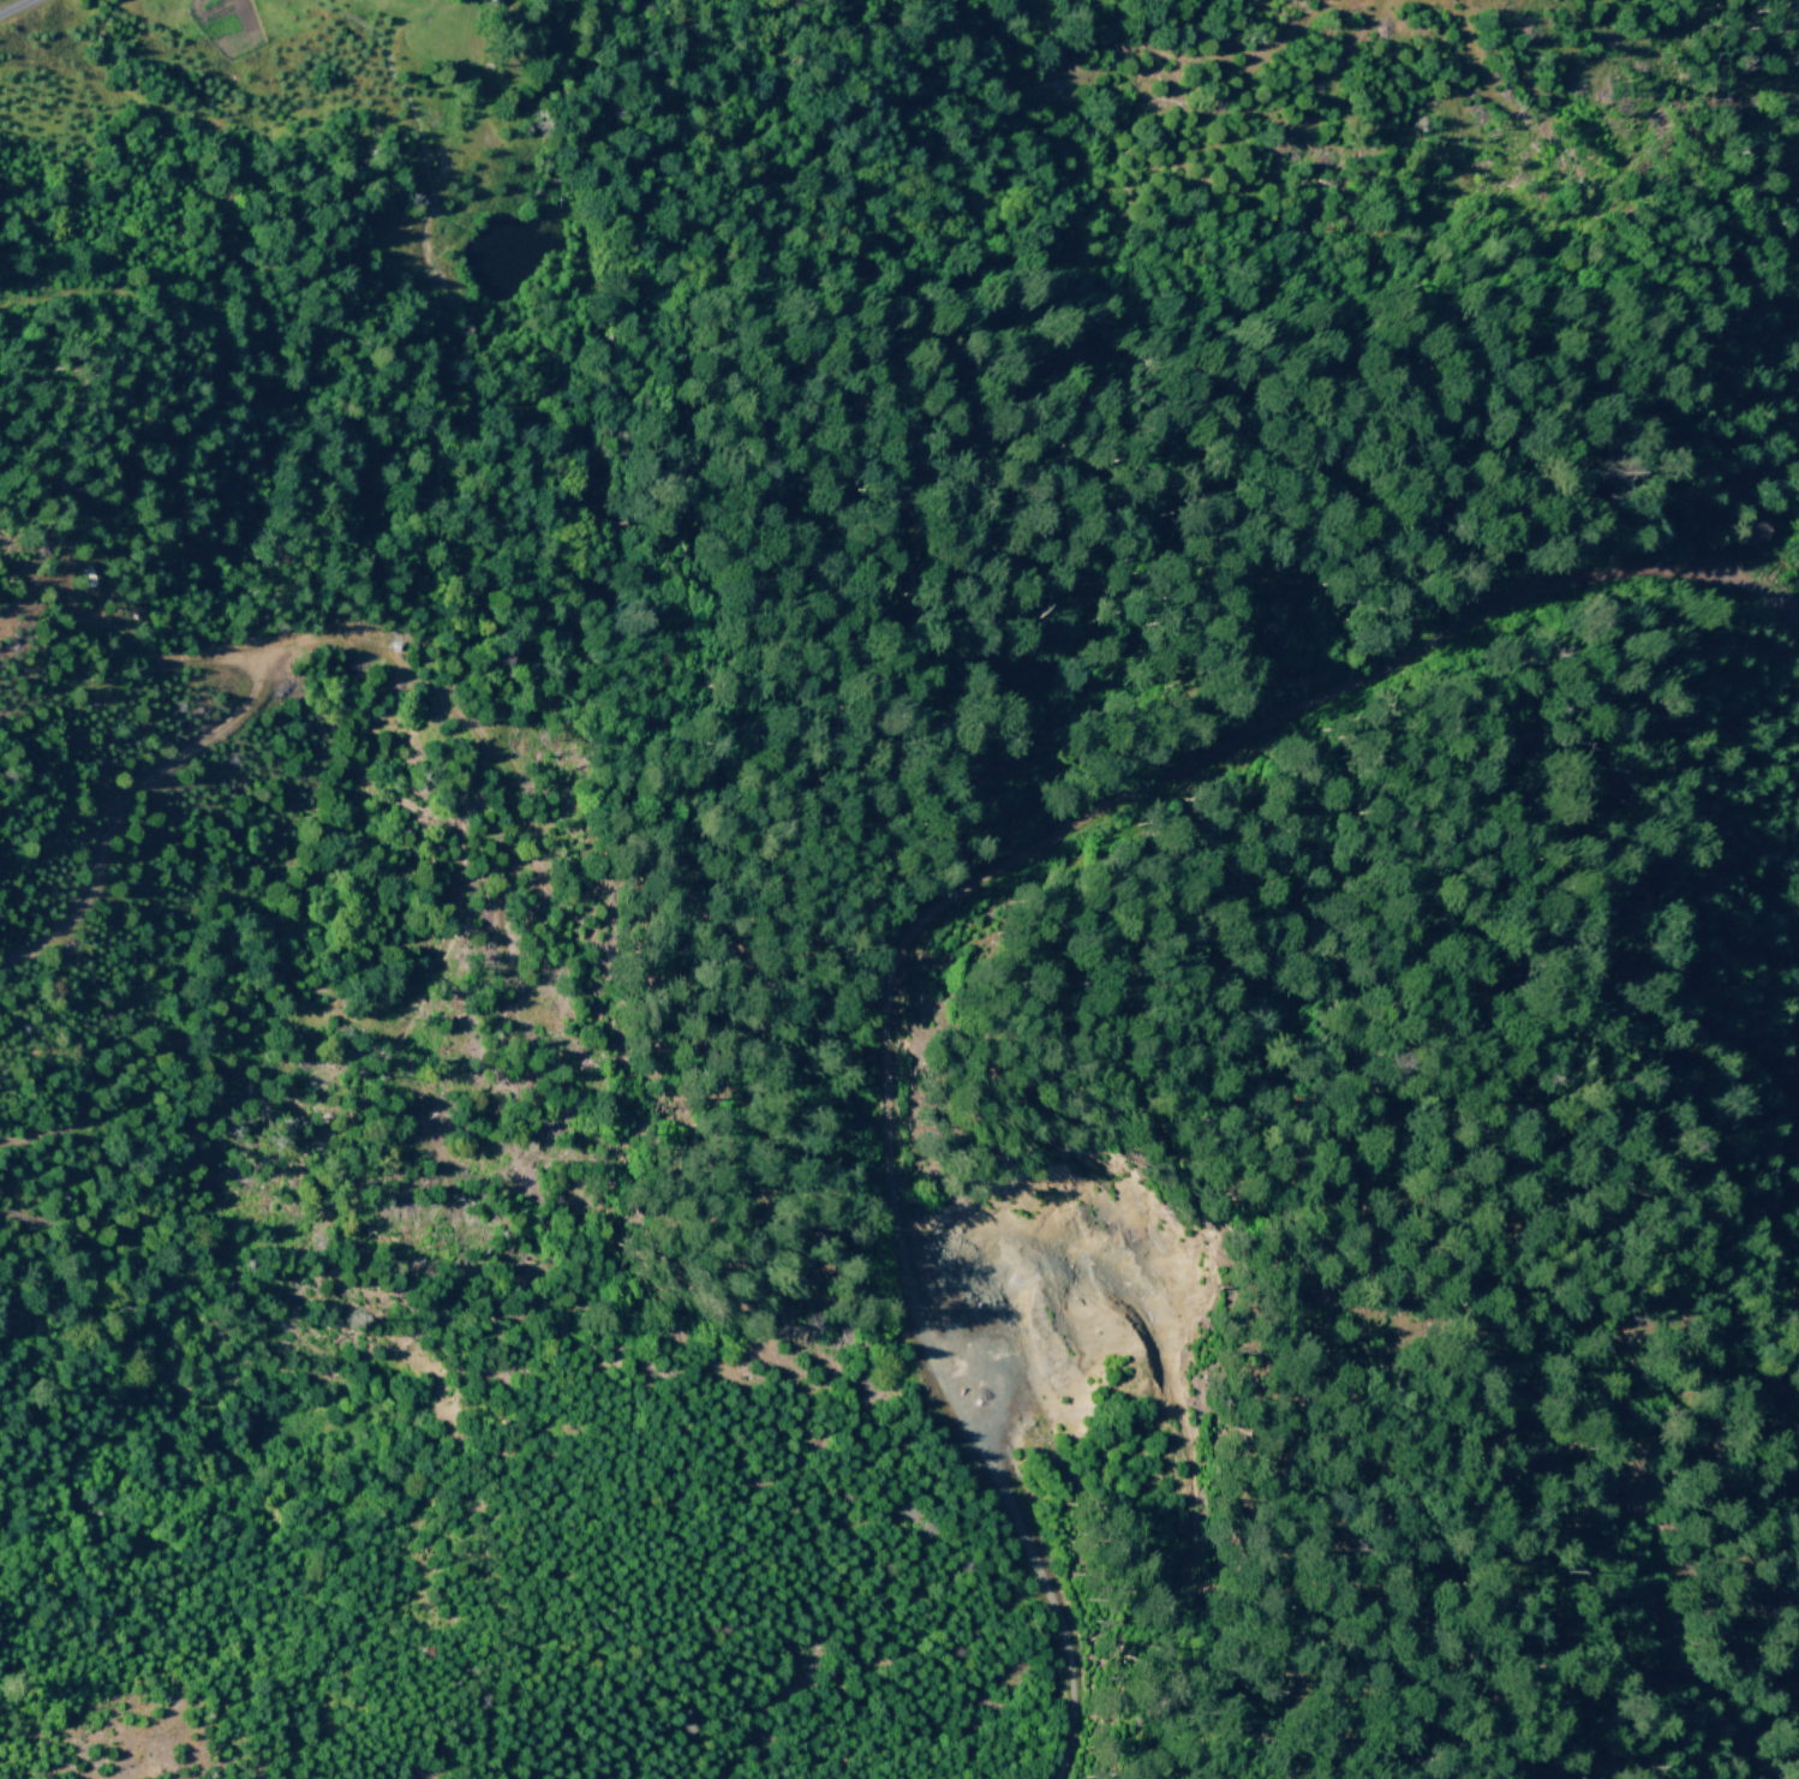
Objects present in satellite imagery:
road: (961, 902)

